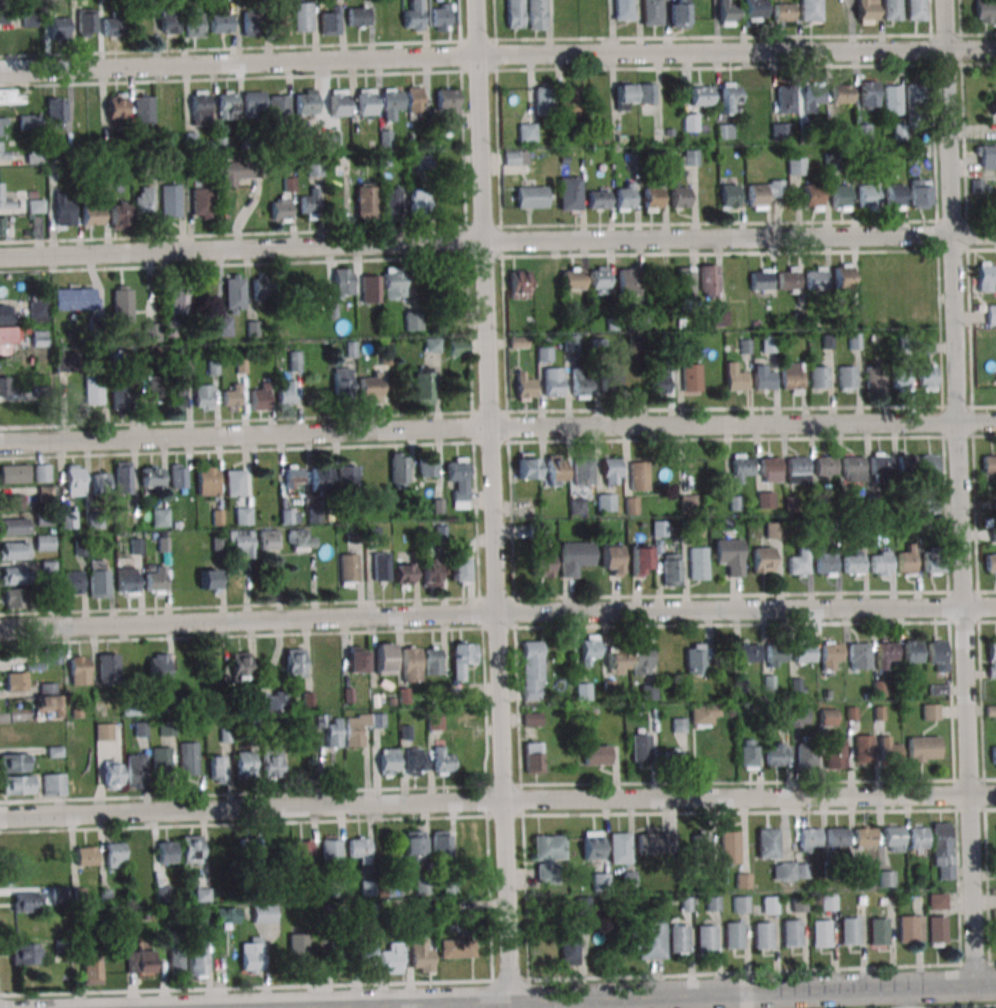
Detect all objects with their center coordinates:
building: (755, 9)
building: (866, 9)
building: (892, 9)
building: (623, 10)
building: (810, 10)
building: (915, 10)
building: (985, 11)
building: (783, 12)
building: (651, 13)
building: (727, 13)
building: (515, 14)
building: (536, 14)
building: (679, 14)
building: (0, 15)
building: (303, 16)
building: (358, 16)
building: (413, 16)
building: (440, 17)
building: (169, 21)
building: (330, 21)
building: (86, 22)
building: (194, 22)
building: (221, 23)
building: (250, 23)
building: (281, 24)
building: (113, 26)
building: (58, 29)
road: (497, 54)
building: (646, 93)
building: (840, 93)
building: (625, 95)
building: (701, 95)
building: (869, 95)
building: (11, 96)
building: (812, 97)
building: (730, 98)
building: (415, 99)
building: (892, 99)
building: (914, 99)
building: (542, 100)
building: (571, 100)
building: (786, 100)
building: (306, 101)
building: (366, 101)
building: (391, 102)
building: (338, 103)
building: (253, 104)
building: (993, 104)
building: (117, 105)
building: (227, 105)
building: (279, 107)
building: (200, 108)
building: (143, 109)
building: (448, 109)
building: (56, 113)
building: (3, 122)
building: (30, 122)
building: (690, 122)
building: (725, 131)
building: (899, 131)
building: (527, 132)
building: (386, 140)
building: (332, 141)
building: (3, 153)
building: (34, 157)
building: (985, 157)
building: (516, 158)
building: (689, 158)
building: (631, 163)
building: (342, 165)
building: (796, 166)
building: (314, 167)
building: (233, 172)
building: (976, 186)
building: (570, 193)
building: (763, 193)
building: (919, 193)
building: (528, 196)
building: (728, 196)
building: (894, 196)
building: (624, 197)
building: (679, 197)
building: (812, 197)
building: (867, 197)
building: (840, 198)
building: (5, 199)
building: (598, 199)
building: (652, 199)
building: (391, 200)
building: (144, 201)
building: (170, 201)
building: (366, 201)
building: (418, 201)
building: (202, 203)
building: (310, 205)
building: (36, 206)
building: (280, 208)
building: (64, 210)
building: (92, 216)
building: (118, 216)
building: (2, 225)
road: (497, 241)
building: (842, 276)
building: (986, 276)
building: (788, 278)
building: (816, 278)
building: (572, 279)
building: (599, 280)
building: (760, 280)
building: (708, 281)
building: (343, 282)
building: (685, 282)
building: (395, 283)
building: (628, 283)
building: (519, 284)
building: (261, 288)
building: (371, 288)
building: (451, 289)
building: (234, 294)
building: (75, 298)
building: (179, 301)
building: (122, 304)
building: (38, 311)
building: (8, 314)
building: (991, 314)
building: (719, 318)
building: (413, 320)
building: (222, 325)
building: (152, 332)
building: (9, 335)
building: (40, 338)
building: (571, 342)
building: (432, 345)
building: (458, 348)
building: (544, 354)
building: (295, 360)
building: (64, 362)
building: (763, 377)
building: (818, 377)
building: (874, 377)
building: (691, 378)
building: (735, 378)
building: (846, 378)
building: (900, 378)
building: (926, 378)
building: (608, 380)
building: (342, 381)
building: (659, 381)
building: (553, 382)
building: (580, 384)
building: (7, 386)
building: (370, 387)
building: (423, 387)
building: (153, 388)
building: (525, 388)
building: (93, 390)
building: (287, 392)
building: (121, 395)
building: (177, 396)
building: (204, 396)
building: (233, 396)
building: (260, 398)
road: (971, 409)
road: (497, 426)
road: (984, 435)
building: (906, 465)
building: (928, 465)
building: (989, 465)
building: (528, 466)
building: (824, 466)
building: (852, 466)
building: (880, 466)
building: (427, 467)
building: (769, 467)
building: (797, 467)
building: (742, 468)
building: (400, 470)
building: (556, 470)
building: (610, 471)
building: (582, 472)
building: (43, 473)
building: (693, 473)
building: (15, 474)
building: (638, 475)
building: (178, 476)
building: (294, 476)
building: (347, 476)
building: (123, 477)
building: (152, 477)
building: (321, 478)
building: (75, 480)
building: (208, 480)
building: (458, 481)
building: (234, 482)
building: (101, 483)
building: (46, 493)
road: (958, 493)
road: (492, 499)
building: (765, 499)
building: (687, 500)
building: (11, 501)
building: (606, 502)
building: (631, 505)
building: (576, 507)
road: (974, 514)
building: (243, 515)
building: (68, 519)
building: (15, 526)
building: (773, 530)
building: (269, 540)
building: (301, 540)
building: (45, 543)
building: (241, 544)
building: (14, 551)
building: (729, 556)
building: (575, 557)
building: (762, 559)
building: (610, 560)
building: (932, 560)
building: (639, 561)
building: (907, 561)
building: (697, 563)
building: (541, 564)
building: (852, 564)
building: (880, 564)
building: (990, 564)
building: (797, 565)
building: (825, 565)
building: (381, 567)
building: (50, 568)
building: (348, 569)
building: (670, 569)
building: (458, 571)
building: (431, 572)
building: (403, 574)
building: (13, 575)
building: (99, 579)
building: (154, 579)
building: (209, 580)
building: (127, 581)
building: (73, 582)
building: (14, 598)
road: (947, 606)
road: (497, 612)
road: (513, 612)
building: (589, 648)
building: (991, 649)
building: (885, 650)
building: (829, 651)
building: (746, 652)
building: (774, 652)
building: (802, 652)
building: (912, 653)
building: (857, 655)
building: (937, 655)
building: (43, 658)
building: (461, 658)
building: (695, 658)
building: (354, 659)
building: (384, 659)
building: (641, 659)
building: (432, 660)
building: (617, 661)
building: (293, 663)
building: (410, 664)
building: (240, 666)
building: (108, 668)
building: (158, 668)
building: (80, 670)
building: (532, 670)
building: (17, 682)
building: (879, 688)
building: (937, 690)
building: (583, 691)
building: (49, 700)
building: (272, 700)
building: (930, 712)
building: (702, 715)
building: (799, 717)
building: (828, 717)
building: (532, 719)
building: (356, 728)
building: (104, 731)
building: (332, 731)
building: (640, 747)
building: (863, 748)
building: (923, 748)
building: (888, 749)
building: (775, 754)
building: (994, 754)
building: (596, 755)
building: (749, 755)
building: (805, 755)
building: (835, 755)
building: (189, 758)
building: (533, 758)
building: (162, 759)
building: (415, 759)
building: (672, 759)
building: (388, 761)
building: (441, 761)
building: (14, 762)
building: (244, 763)
building: (271, 765)
building: (218, 769)
building: (135, 770)
building: (109, 774)
building: (53, 784)
building: (17, 785)
road: (520, 799)
road: (497, 800)
building: (891, 834)
building: (807, 836)
building: (835, 836)
building: (863, 836)
building: (918, 839)
building: (766, 841)
building: (655, 842)
building: (440, 844)
building: (413, 845)
building: (593, 845)
building: (729, 847)
building: (619, 848)
building: (700, 848)
building: (192, 849)
building: (359, 849)
building: (469, 849)
building: (942, 850)
building: (331, 851)
building: (167, 852)
building: (304, 852)
building: (137, 853)
building: (250, 853)
building: (114, 855)
building: (85, 856)
building: (546, 859)
building: (785, 870)
building: (59, 872)
building: (885, 878)
building: (600, 881)
building: (742, 881)
building: (367, 888)
building: (58, 895)
building: (935, 900)
building: (28, 902)
building: (826, 902)
building: (710, 904)
building: (739, 904)
building: (768, 904)
building: (797, 904)
building: (582, 906)
building: (263, 914)
building: (225, 915)
building: (905, 928)
building: (935, 928)
building: (848, 930)
building: (877, 930)
building: (789, 932)
building: (819, 933)
building: (732, 935)
building: (760, 935)
building: (676, 938)
building: (704, 938)
building: (646, 939)
building: (298, 947)
building: (455, 949)
building: (568, 950)
building: (25, 953)
building: (365, 953)
building: (252, 955)
building: (421, 955)
building: (337, 956)
building: (177, 957)
building: (196, 959)
building: (391, 960)
building: (140, 962)
building: (91, 968)
road: (576, 997)
road: (491, 1003)
road: (192, 1007)

